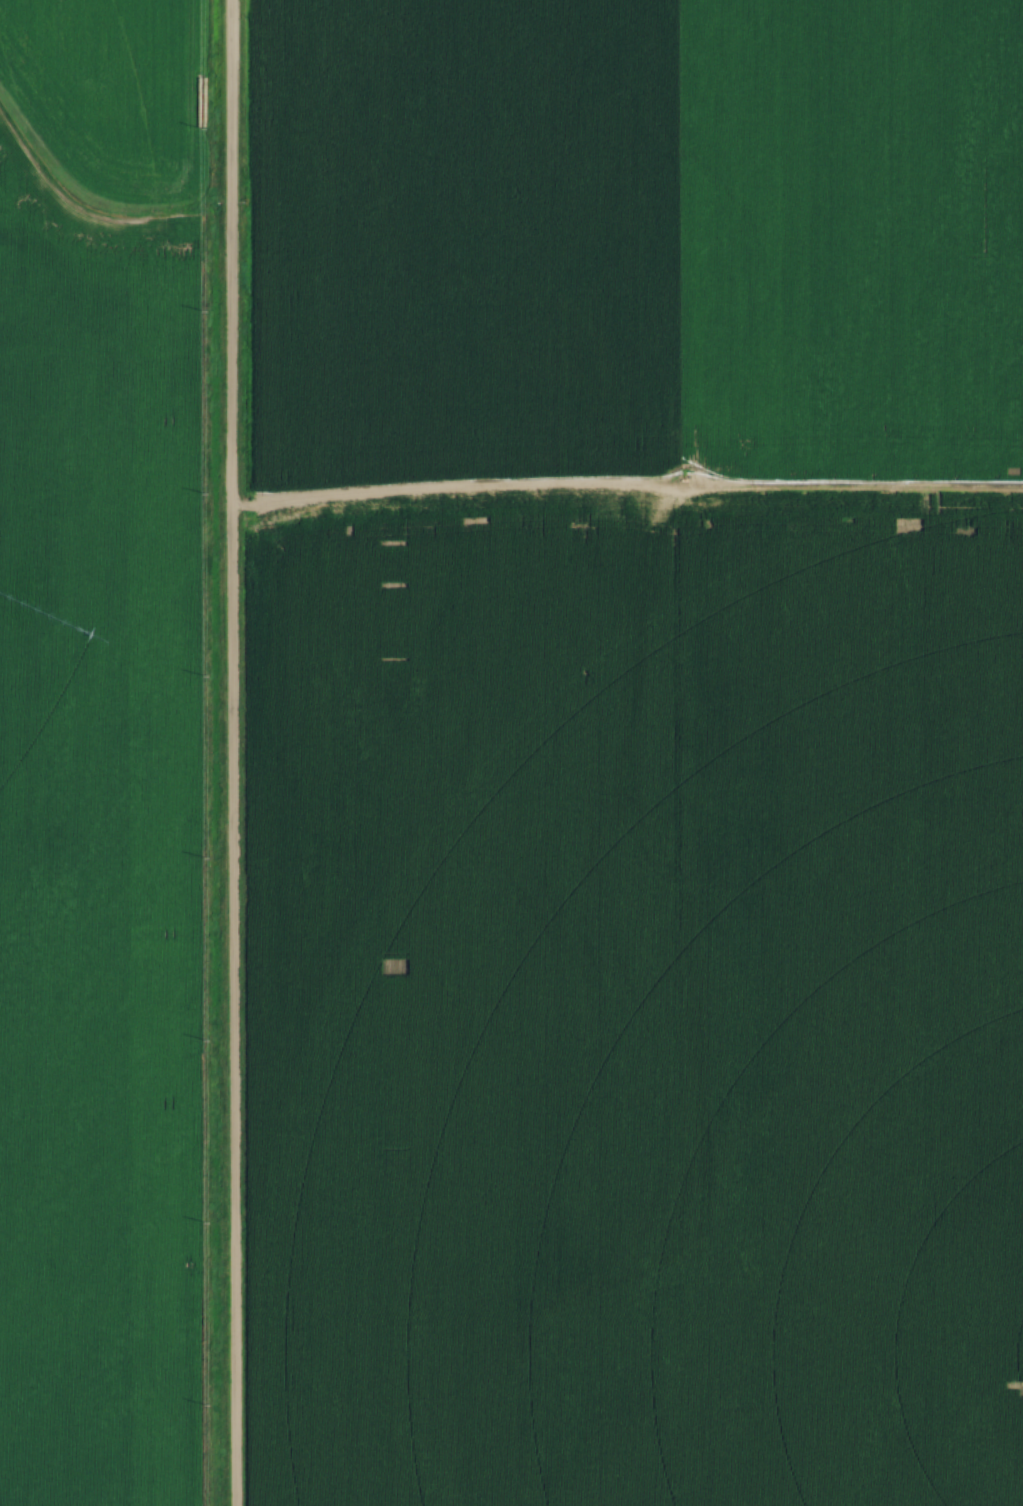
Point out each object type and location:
road: (229, 753)

